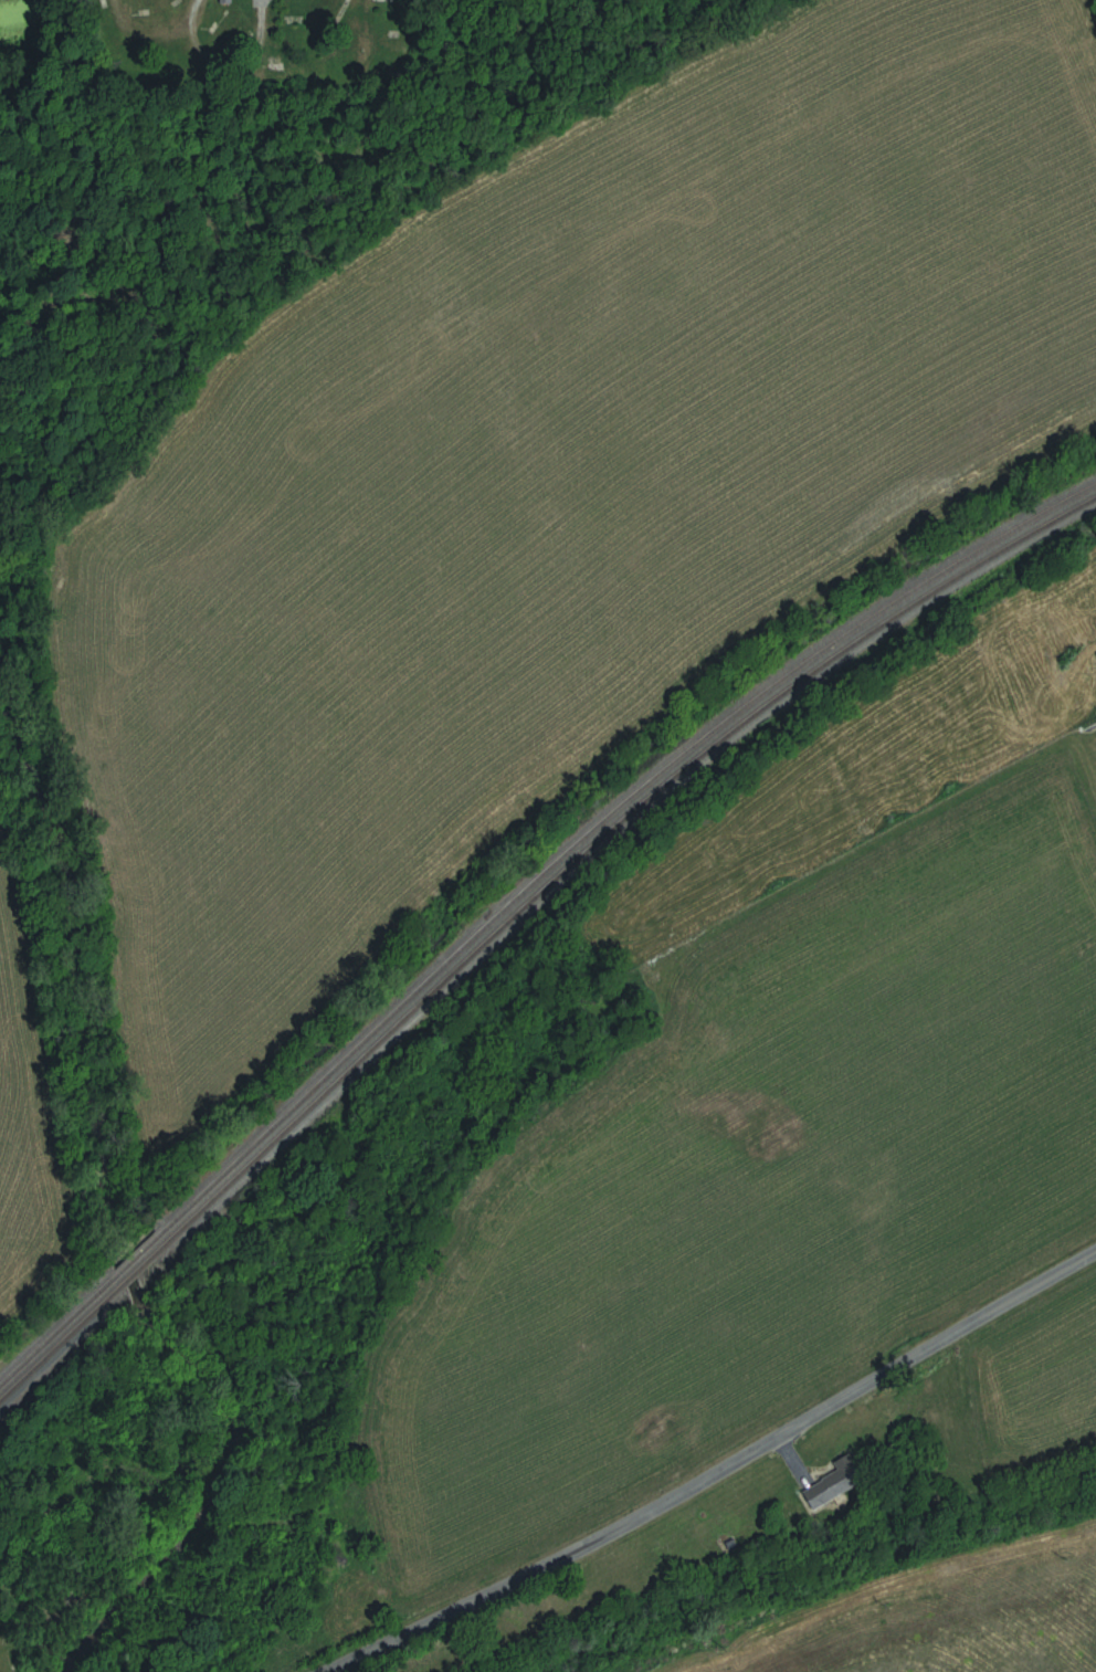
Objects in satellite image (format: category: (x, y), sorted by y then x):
road: (187, 18)
road: (193, 46)
crop: (562, 476)
railway: (601, 838)
crop: (23, 1154)
crop: (755, 1193)
railway: (136, 1271)
railway: (56, 1347)
crop: (1021, 1390)
road: (729, 1474)
building: (839, 1482)
crop: (955, 1624)

